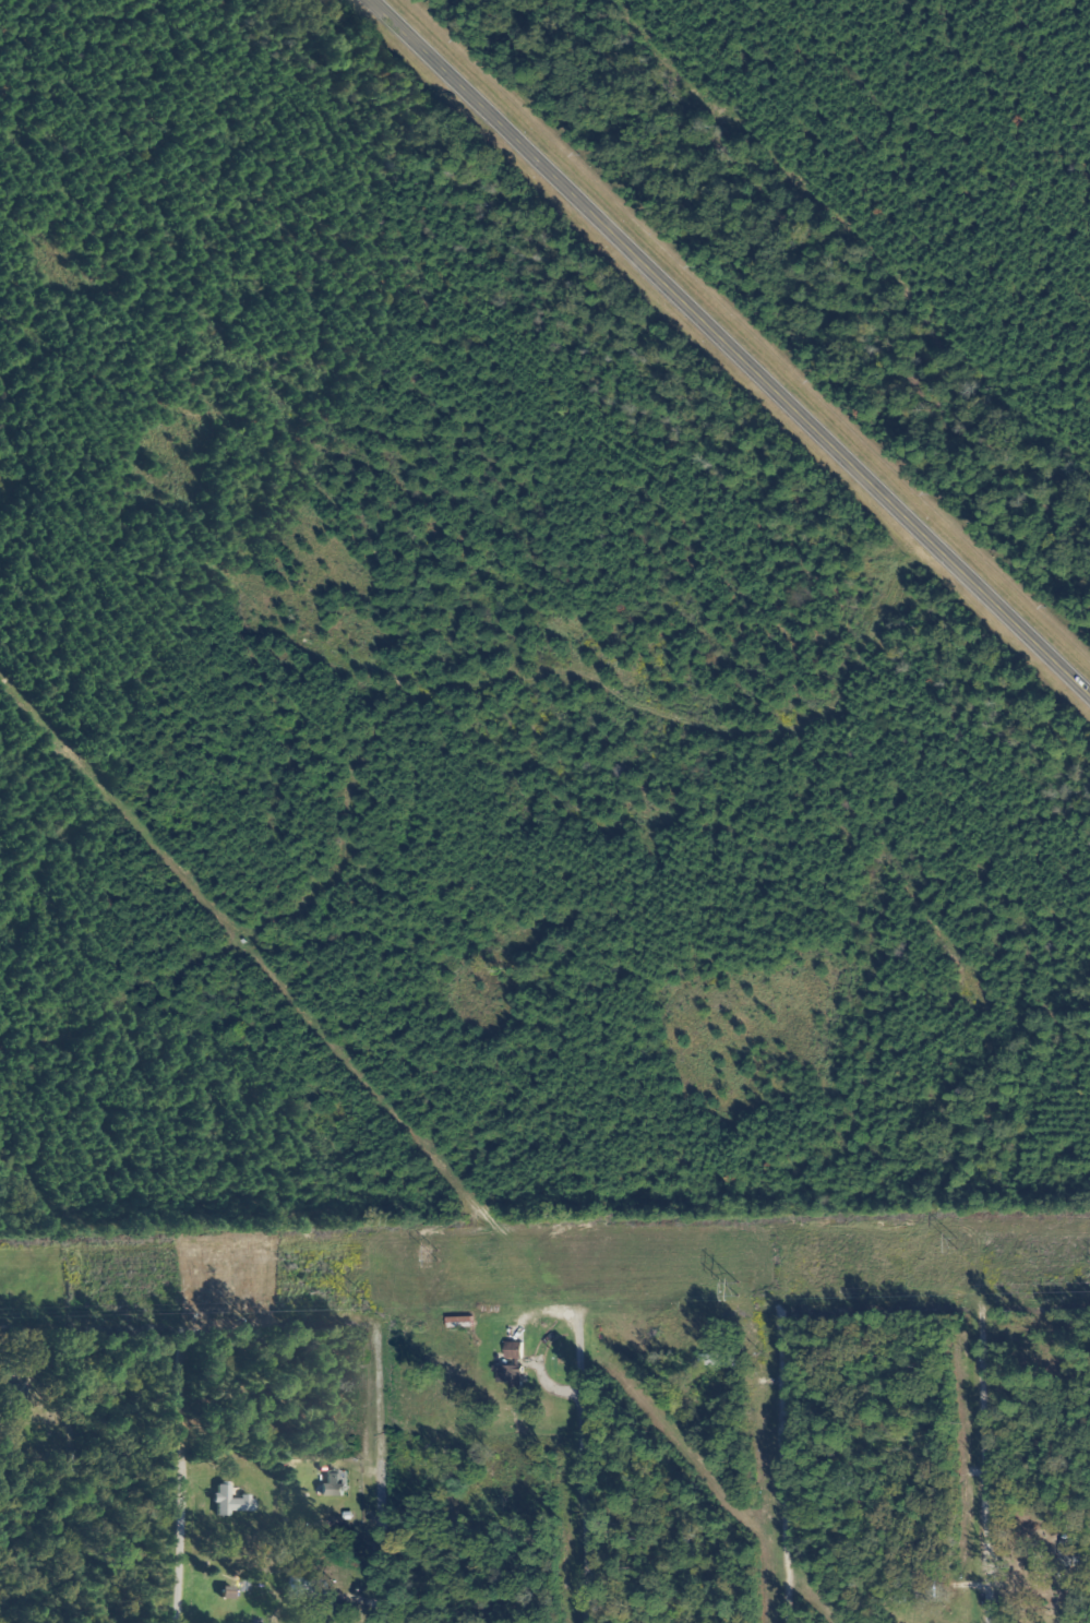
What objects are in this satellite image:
railway: (748, 331)
road: (729, 349)
power tower: (953, 1242)
power tower: (433, 1255)
power tower: (731, 1286)
power tower: (356, 1296)
building: (510, 1368)
building: (331, 1485)
road: (763, 1487)
road: (975, 1490)
road: (573, 1493)
road: (183, 1495)
road: (382, 1495)

